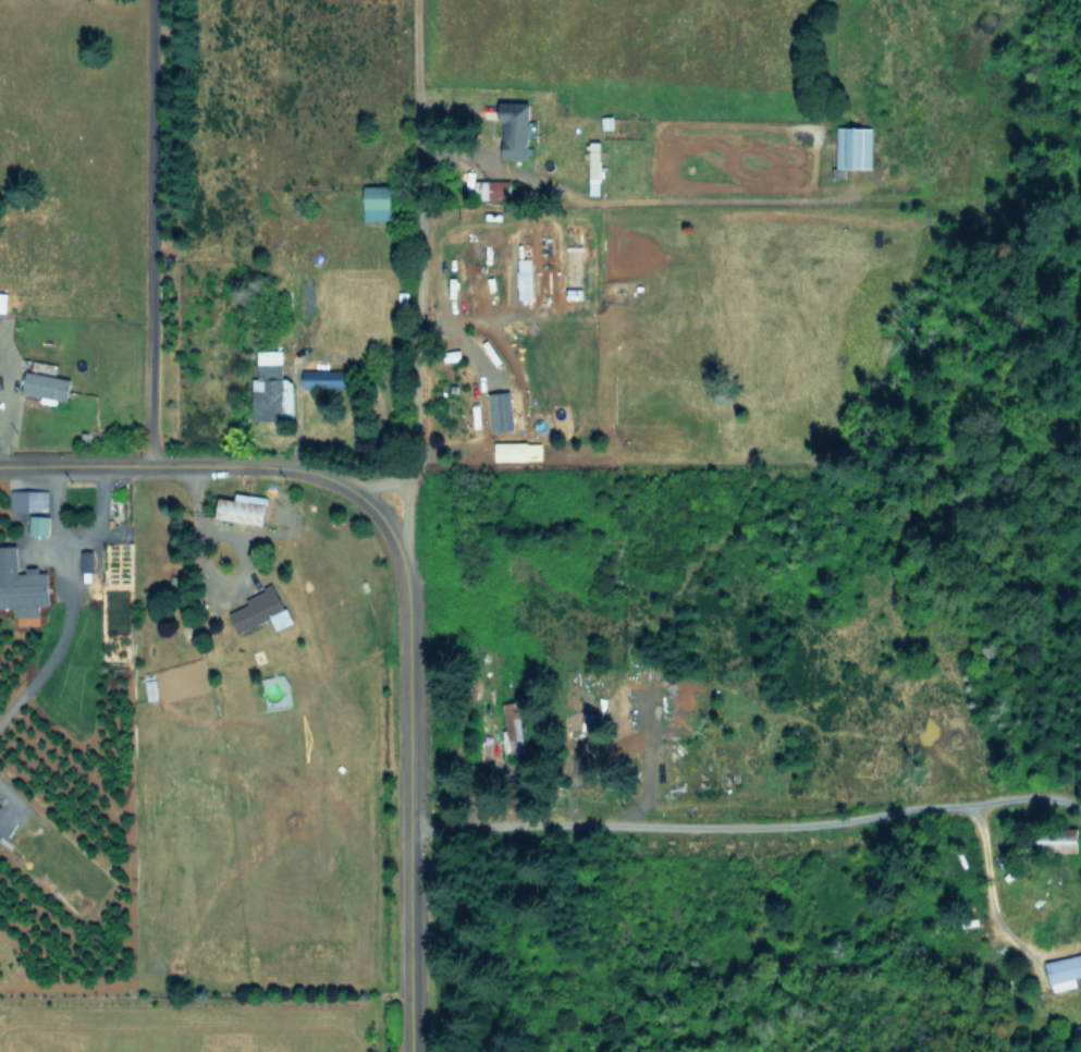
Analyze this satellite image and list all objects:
building: (516, 130)
building: (855, 146)
road: (422, 161)
building: (594, 164)
building: (500, 188)
building: (378, 203)
road: (144, 230)
building: (525, 277)
building: (3, 301)
road: (415, 368)
building: (325, 378)
building: (47, 386)
building: (273, 388)
building: (502, 411)
building: (517, 450)
road: (401, 494)
building: (28, 500)
building: (243, 507)
building: (38, 524)
road: (402, 582)
building: (22, 584)
road: (61, 591)
building: (261, 610)
building: (515, 725)
road: (1021, 787)
road: (684, 820)
building: (1067, 840)
road: (983, 912)
building: (1064, 971)

